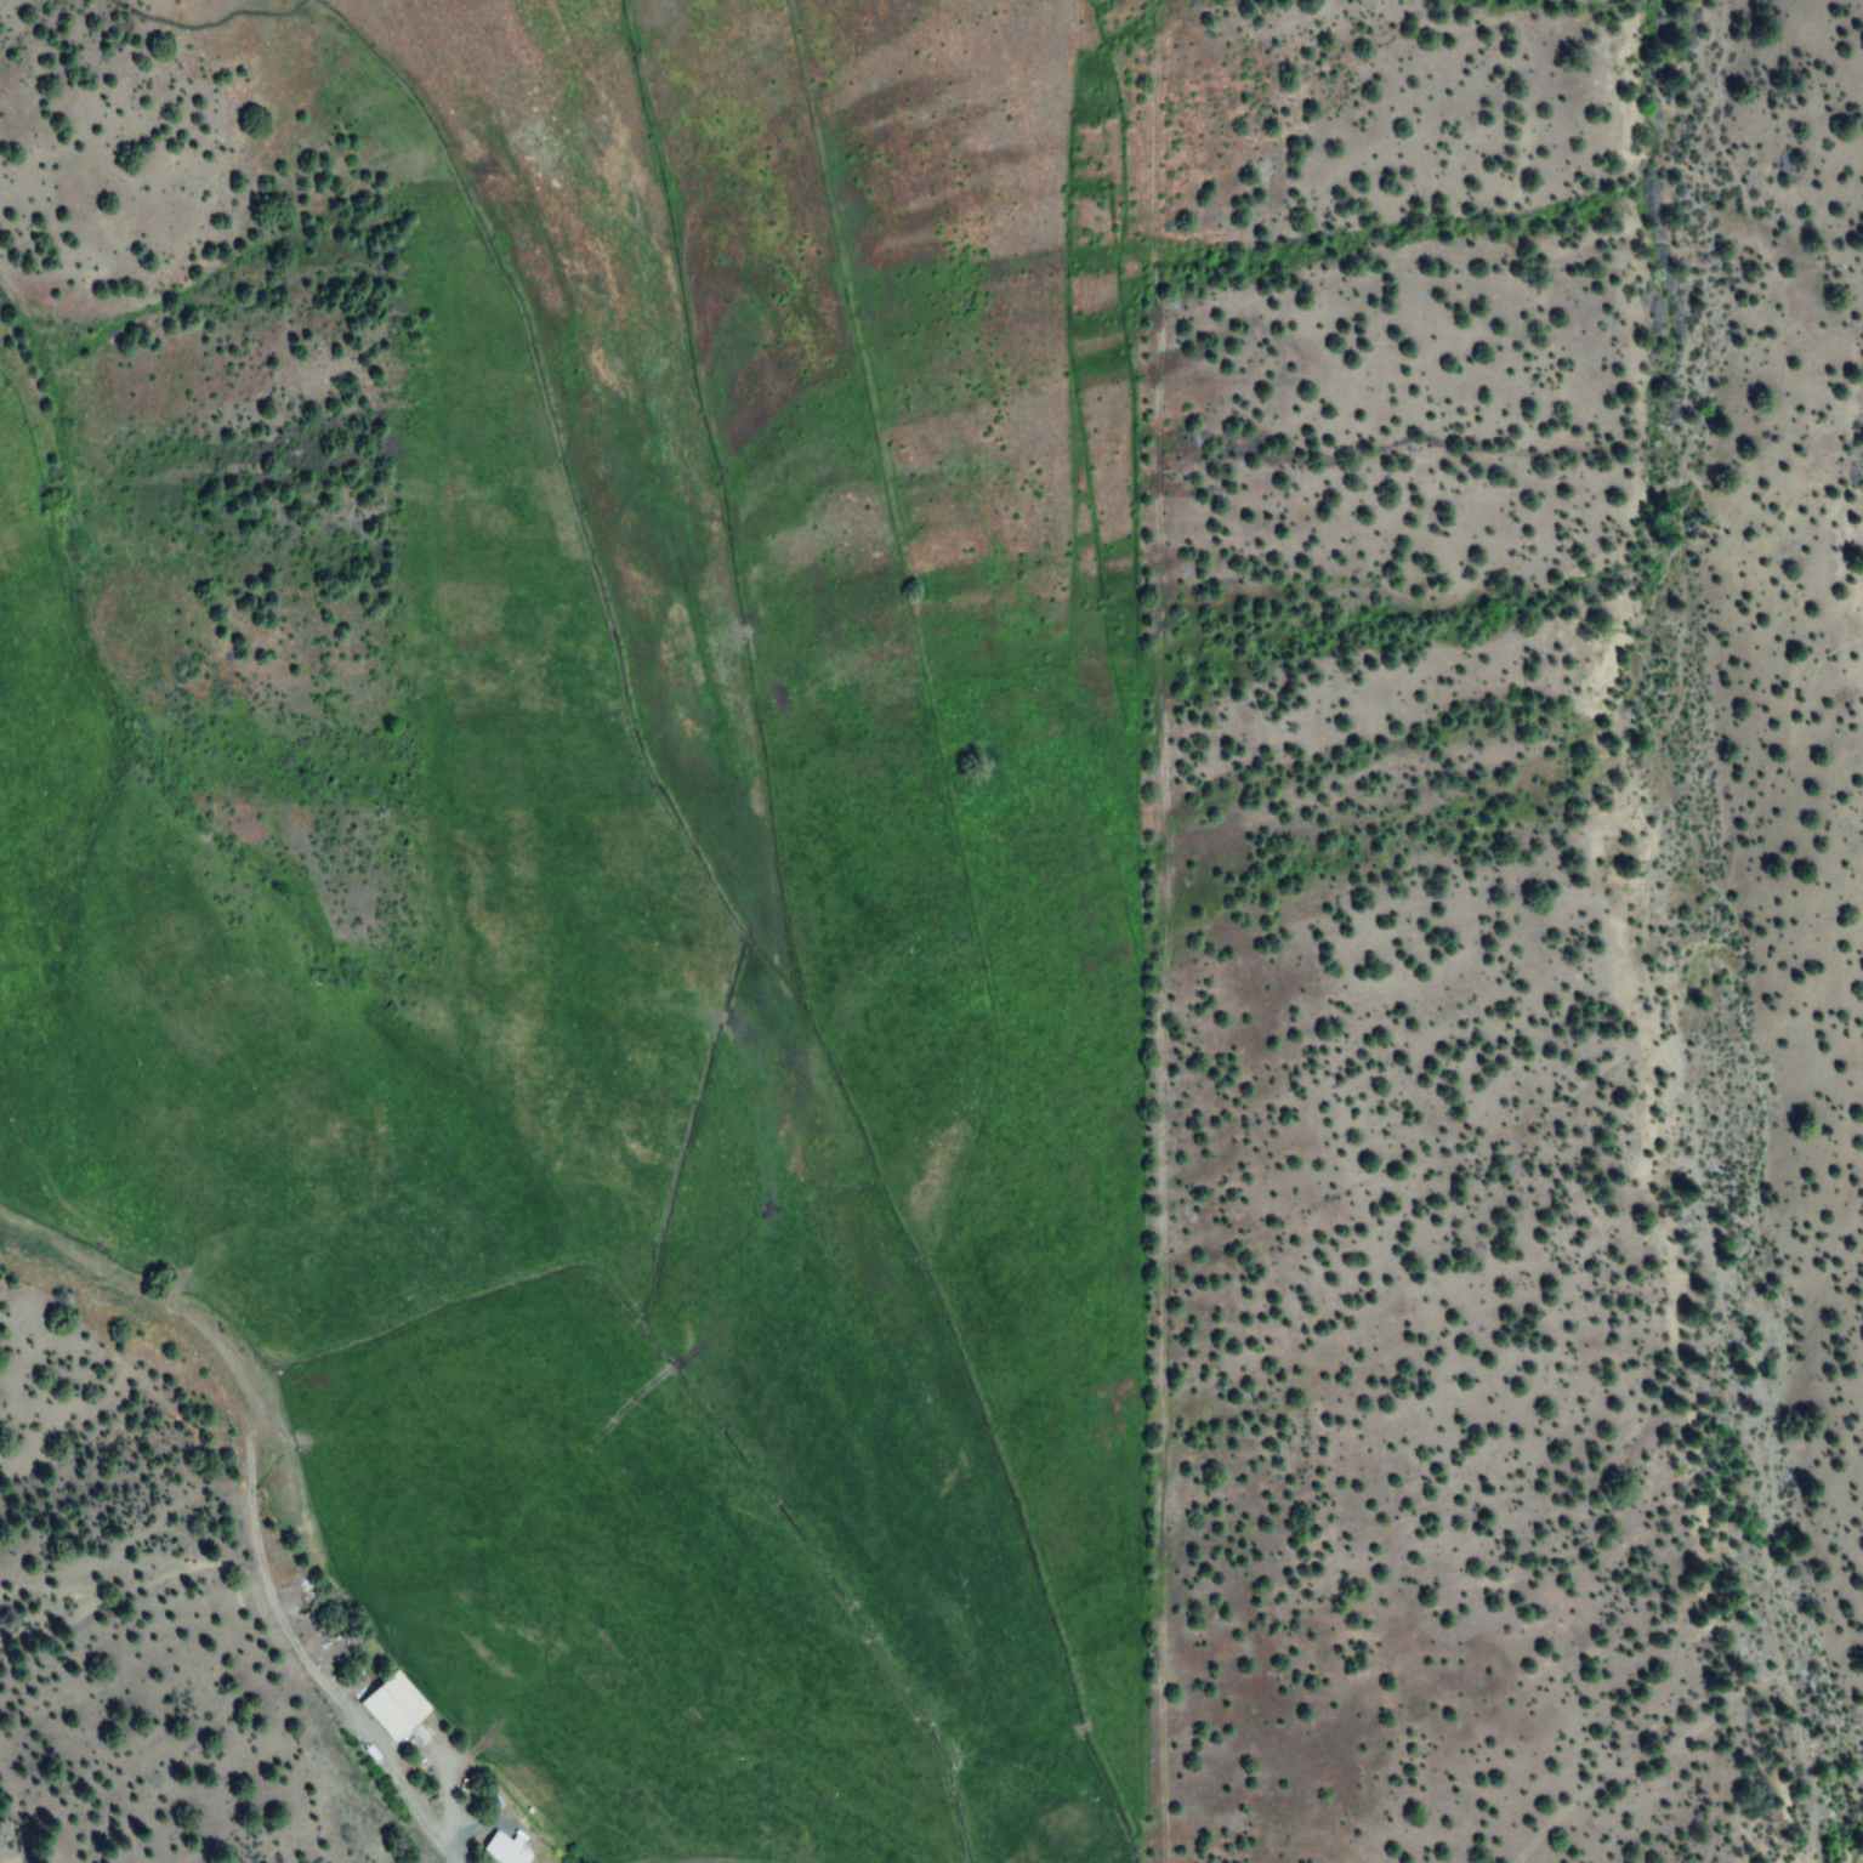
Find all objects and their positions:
building: (393, 1705)

